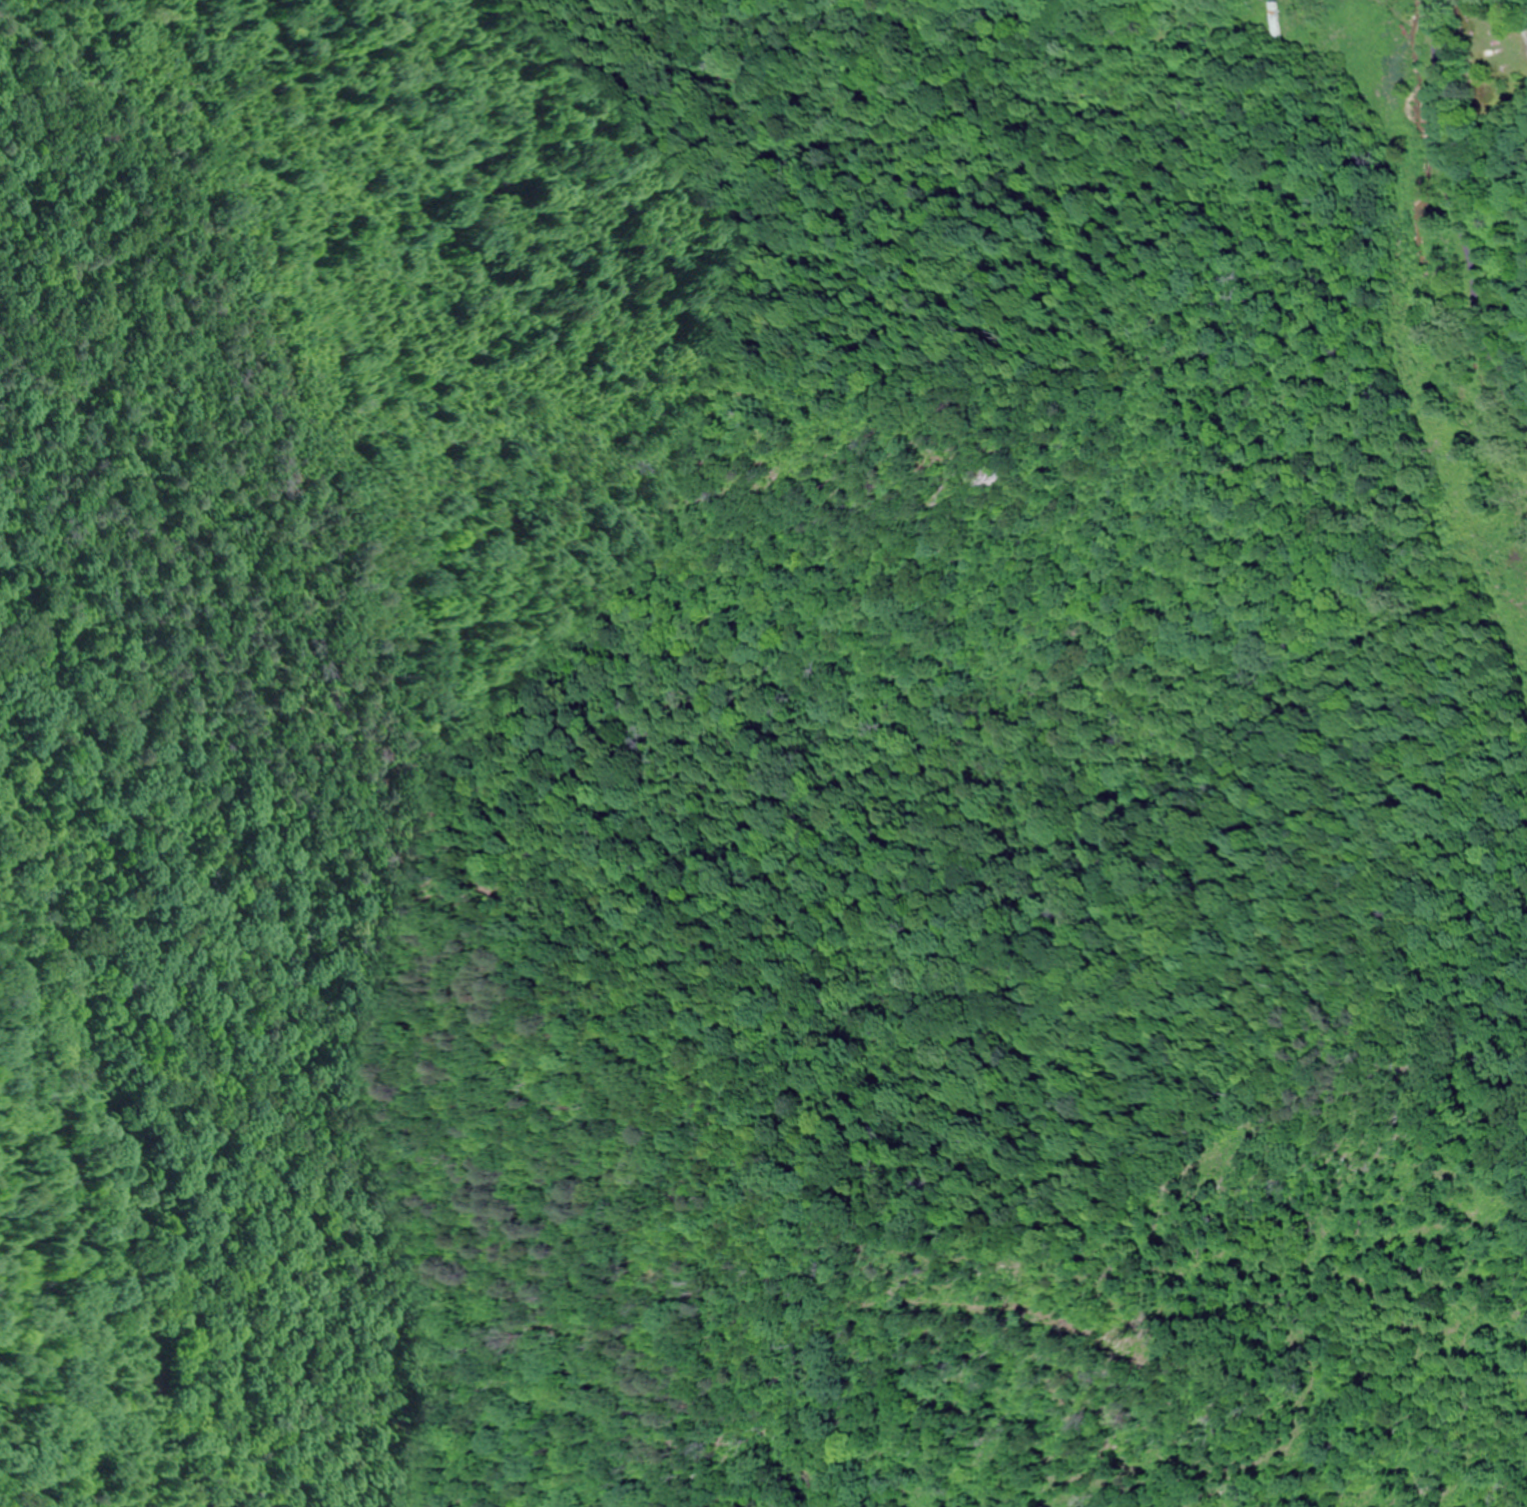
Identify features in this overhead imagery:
building: (1270, 21)
road: (1460, 227)

